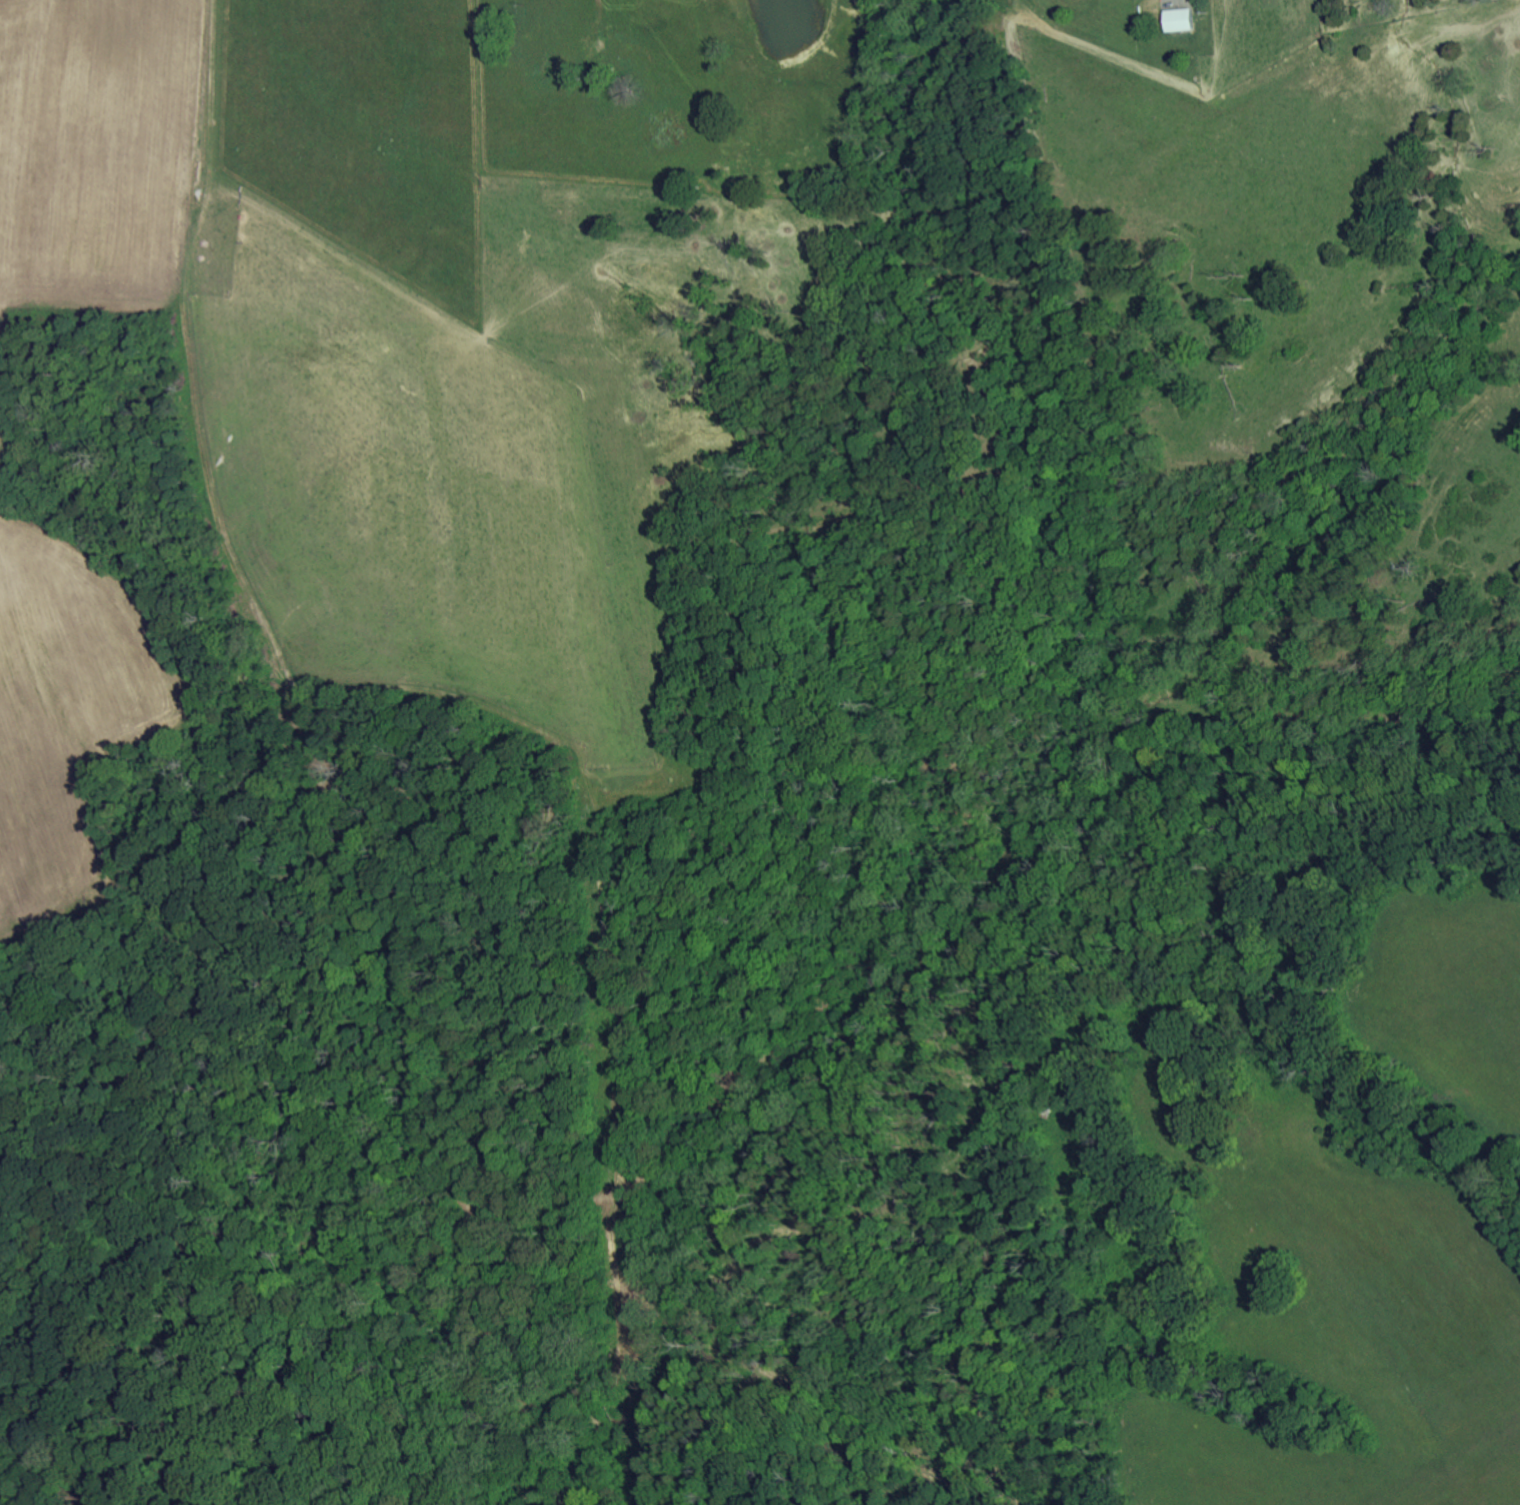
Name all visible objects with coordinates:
road: (805, 5)
building: (1175, 19)

